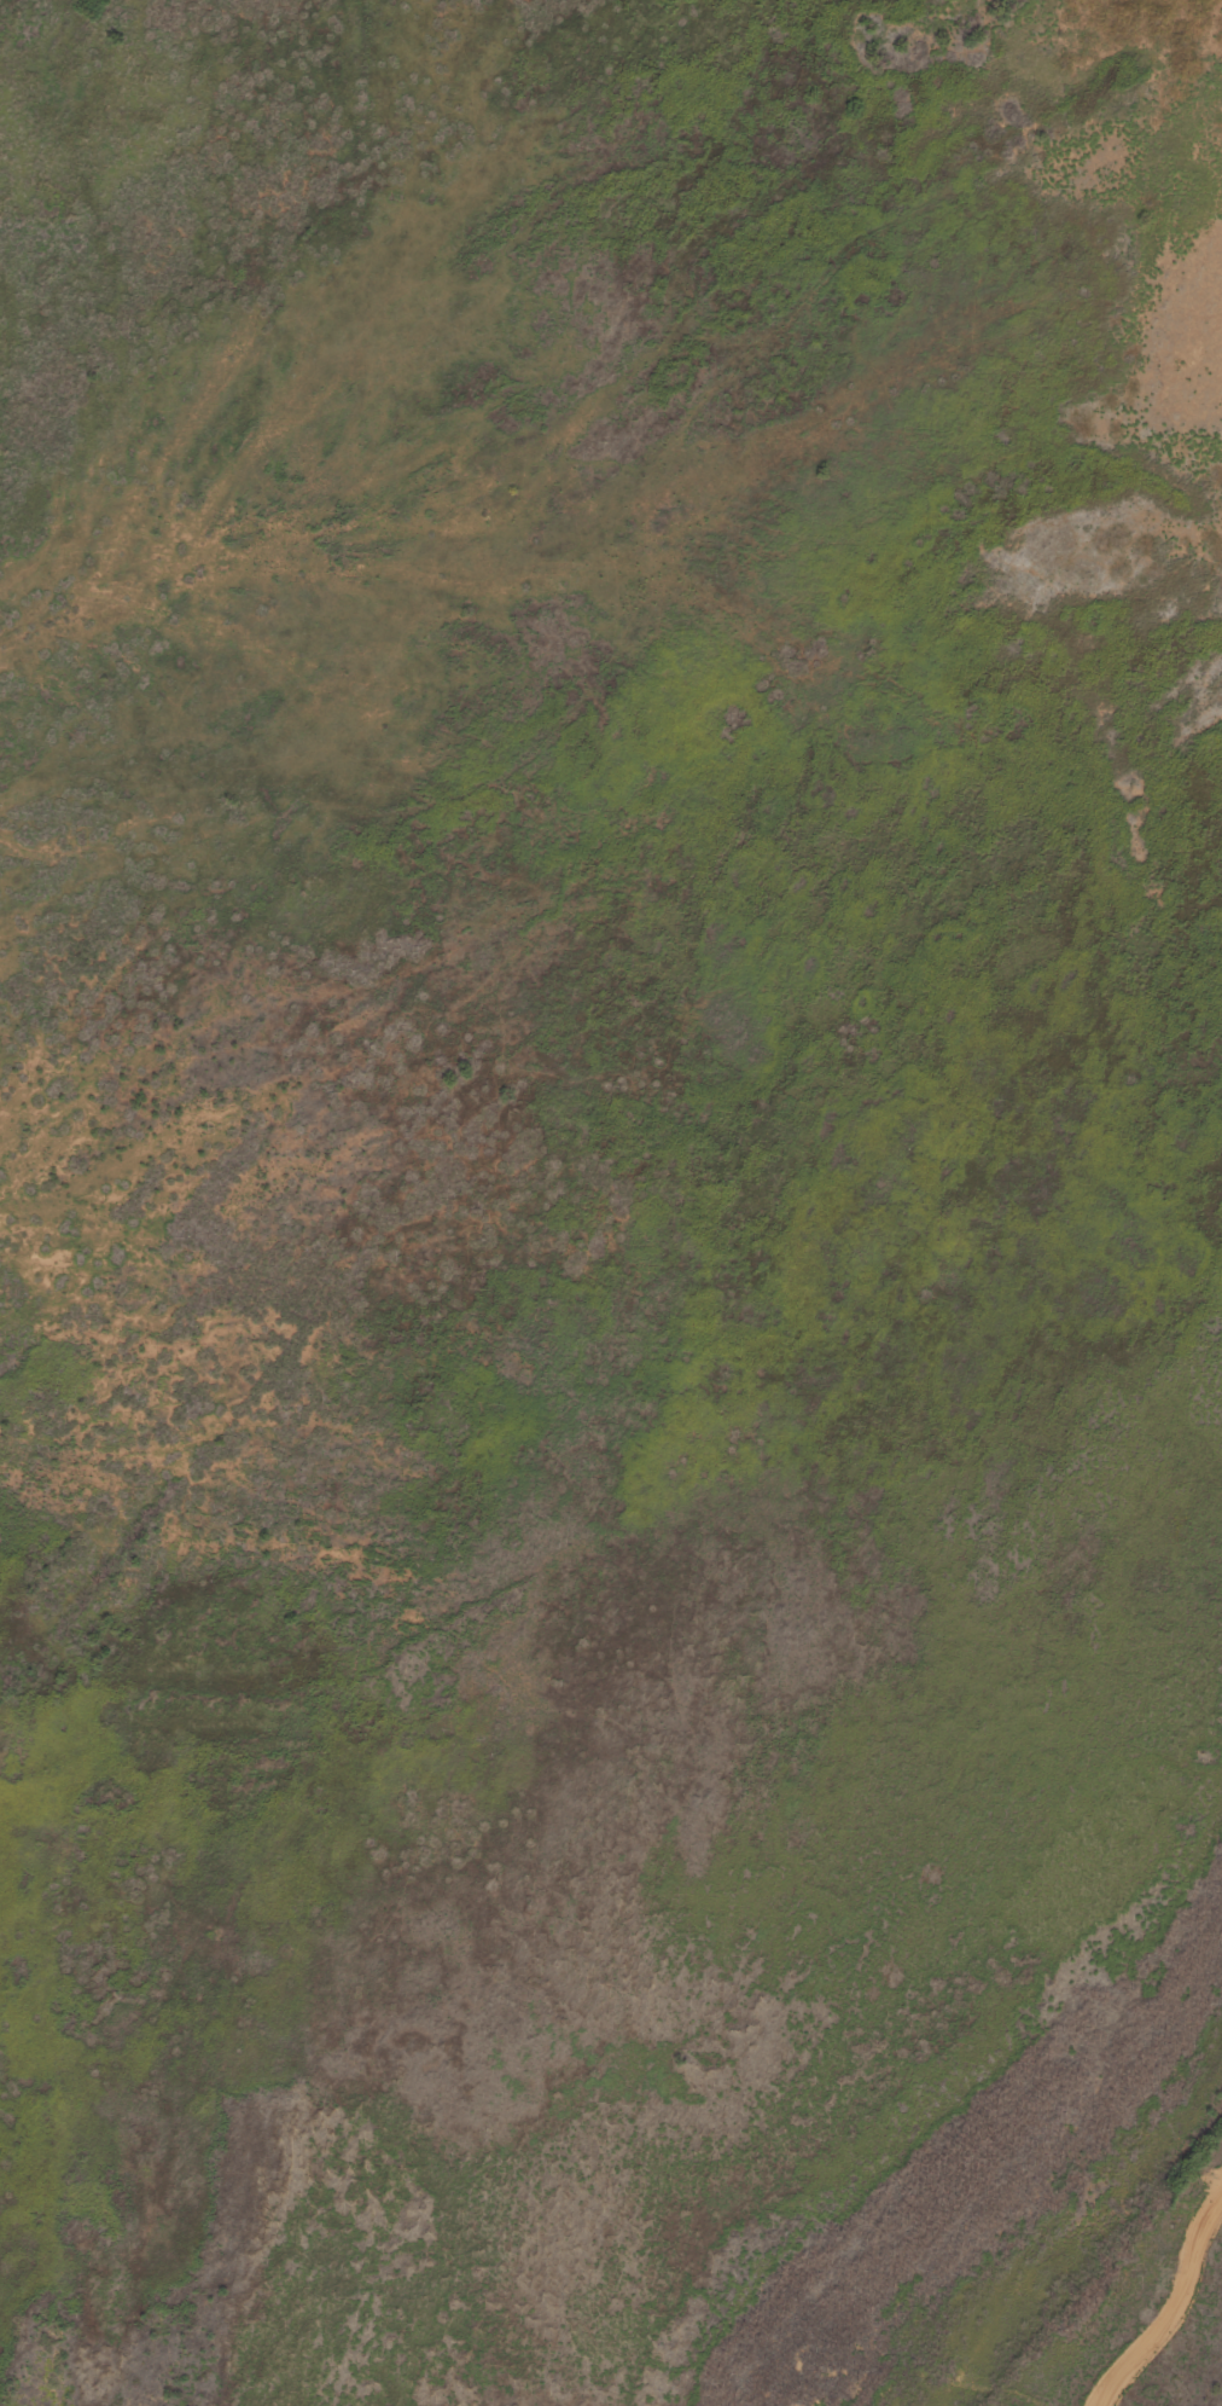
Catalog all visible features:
road: (1181, 2315)

